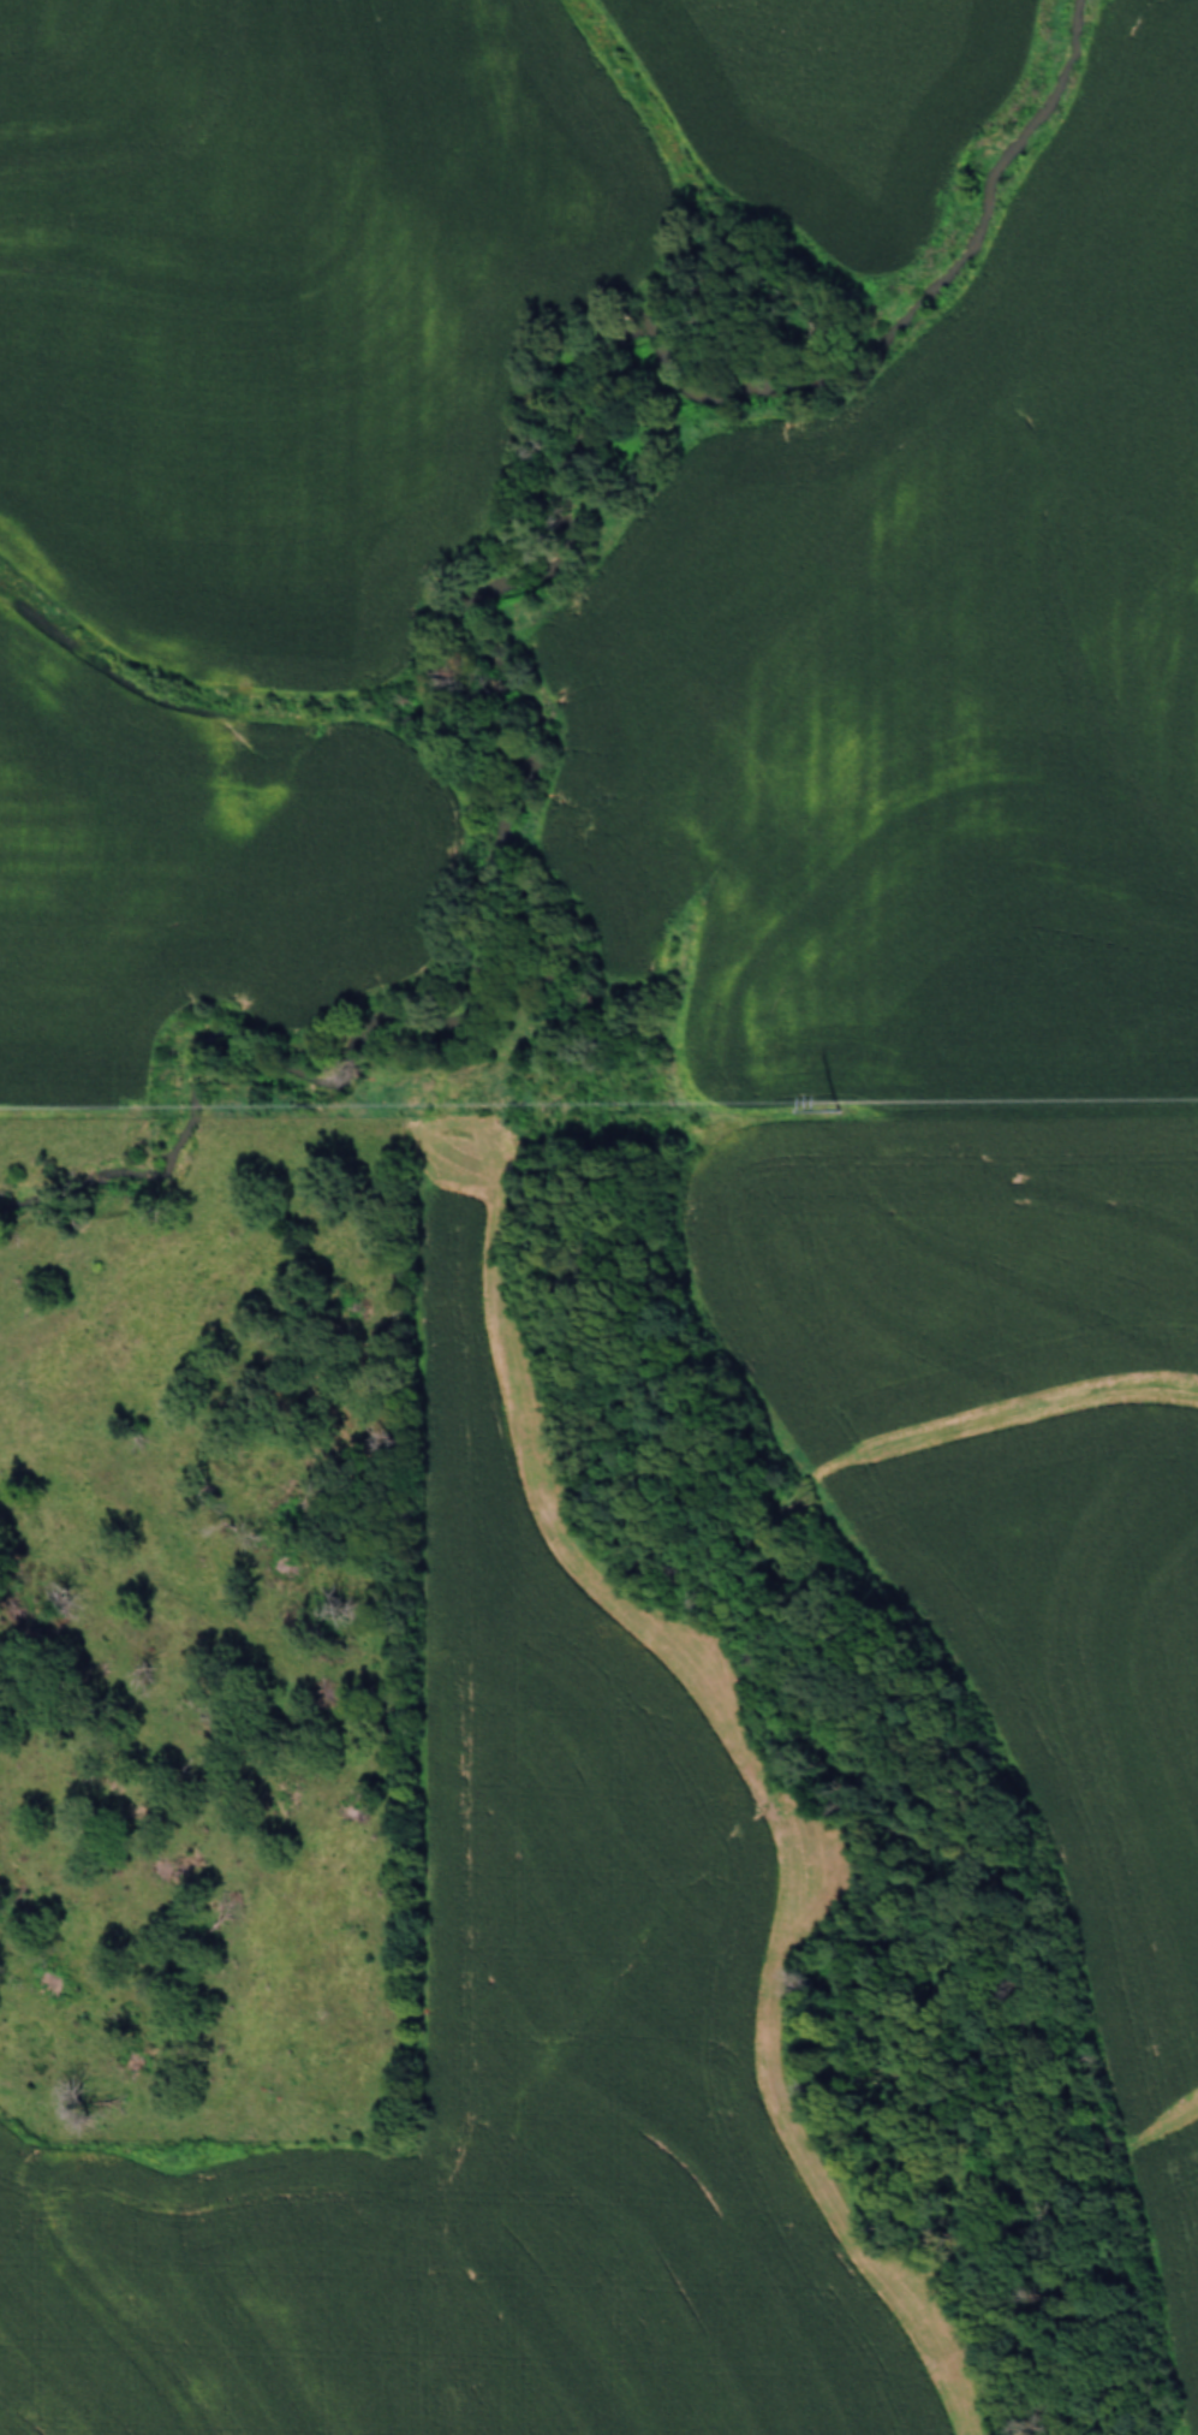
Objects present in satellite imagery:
power tower: (839, 1099)

